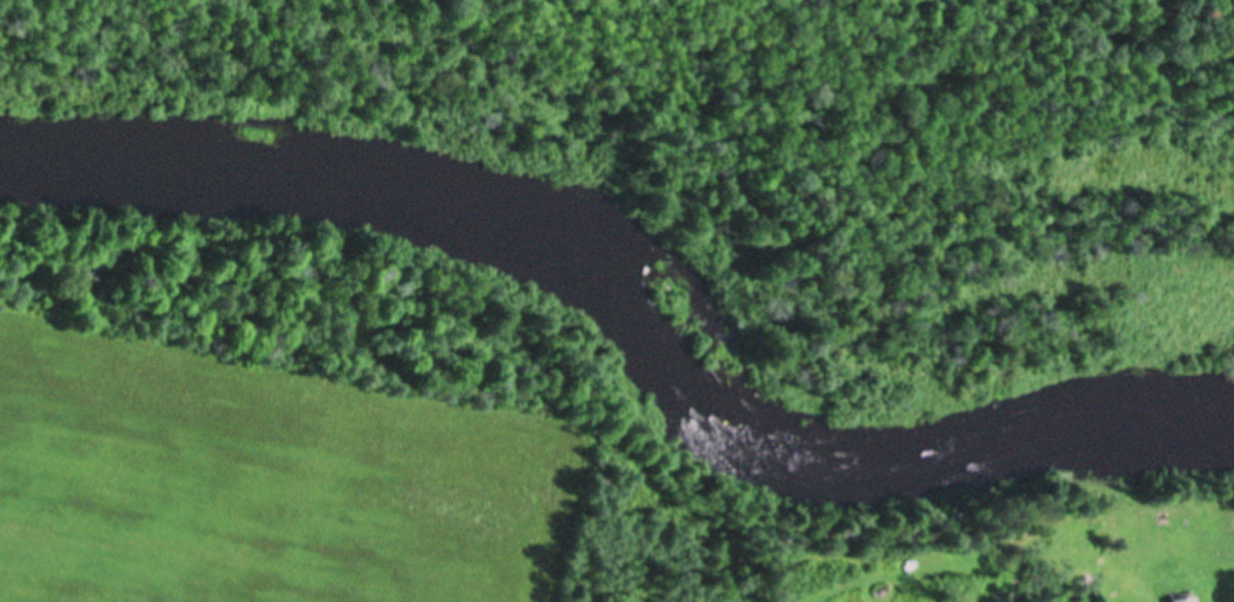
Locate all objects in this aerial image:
river: (628, 299)
building: (1187, 598)

